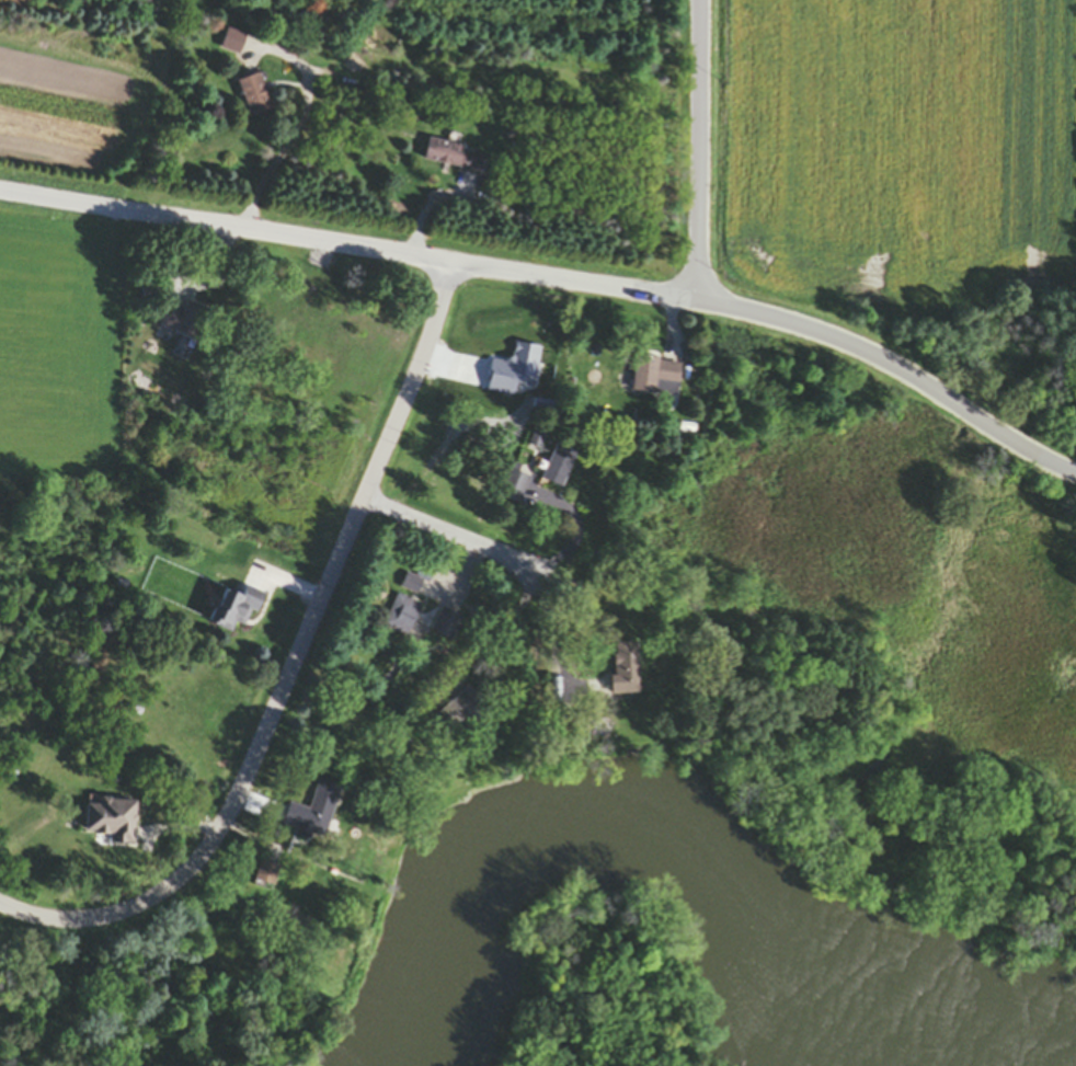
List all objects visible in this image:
building: (233, 44)
building: (255, 98)
road: (290, 131)
road: (701, 150)
crop: (906, 152)
building: (454, 159)
road: (556, 279)
building: (183, 323)
building: (656, 379)
building: (559, 468)
building: (514, 489)
road: (570, 527)
road: (476, 546)
building: (412, 585)
building: (237, 608)
building: (402, 616)
building: (447, 624)
building: (626, 669)
road: (294, 670)
building: (468, 700)
building: (313, 815)
building: (112, 822)
river: (716, 859)
building: (267, 876)
building: (199, 972)
building: (243, 975)

